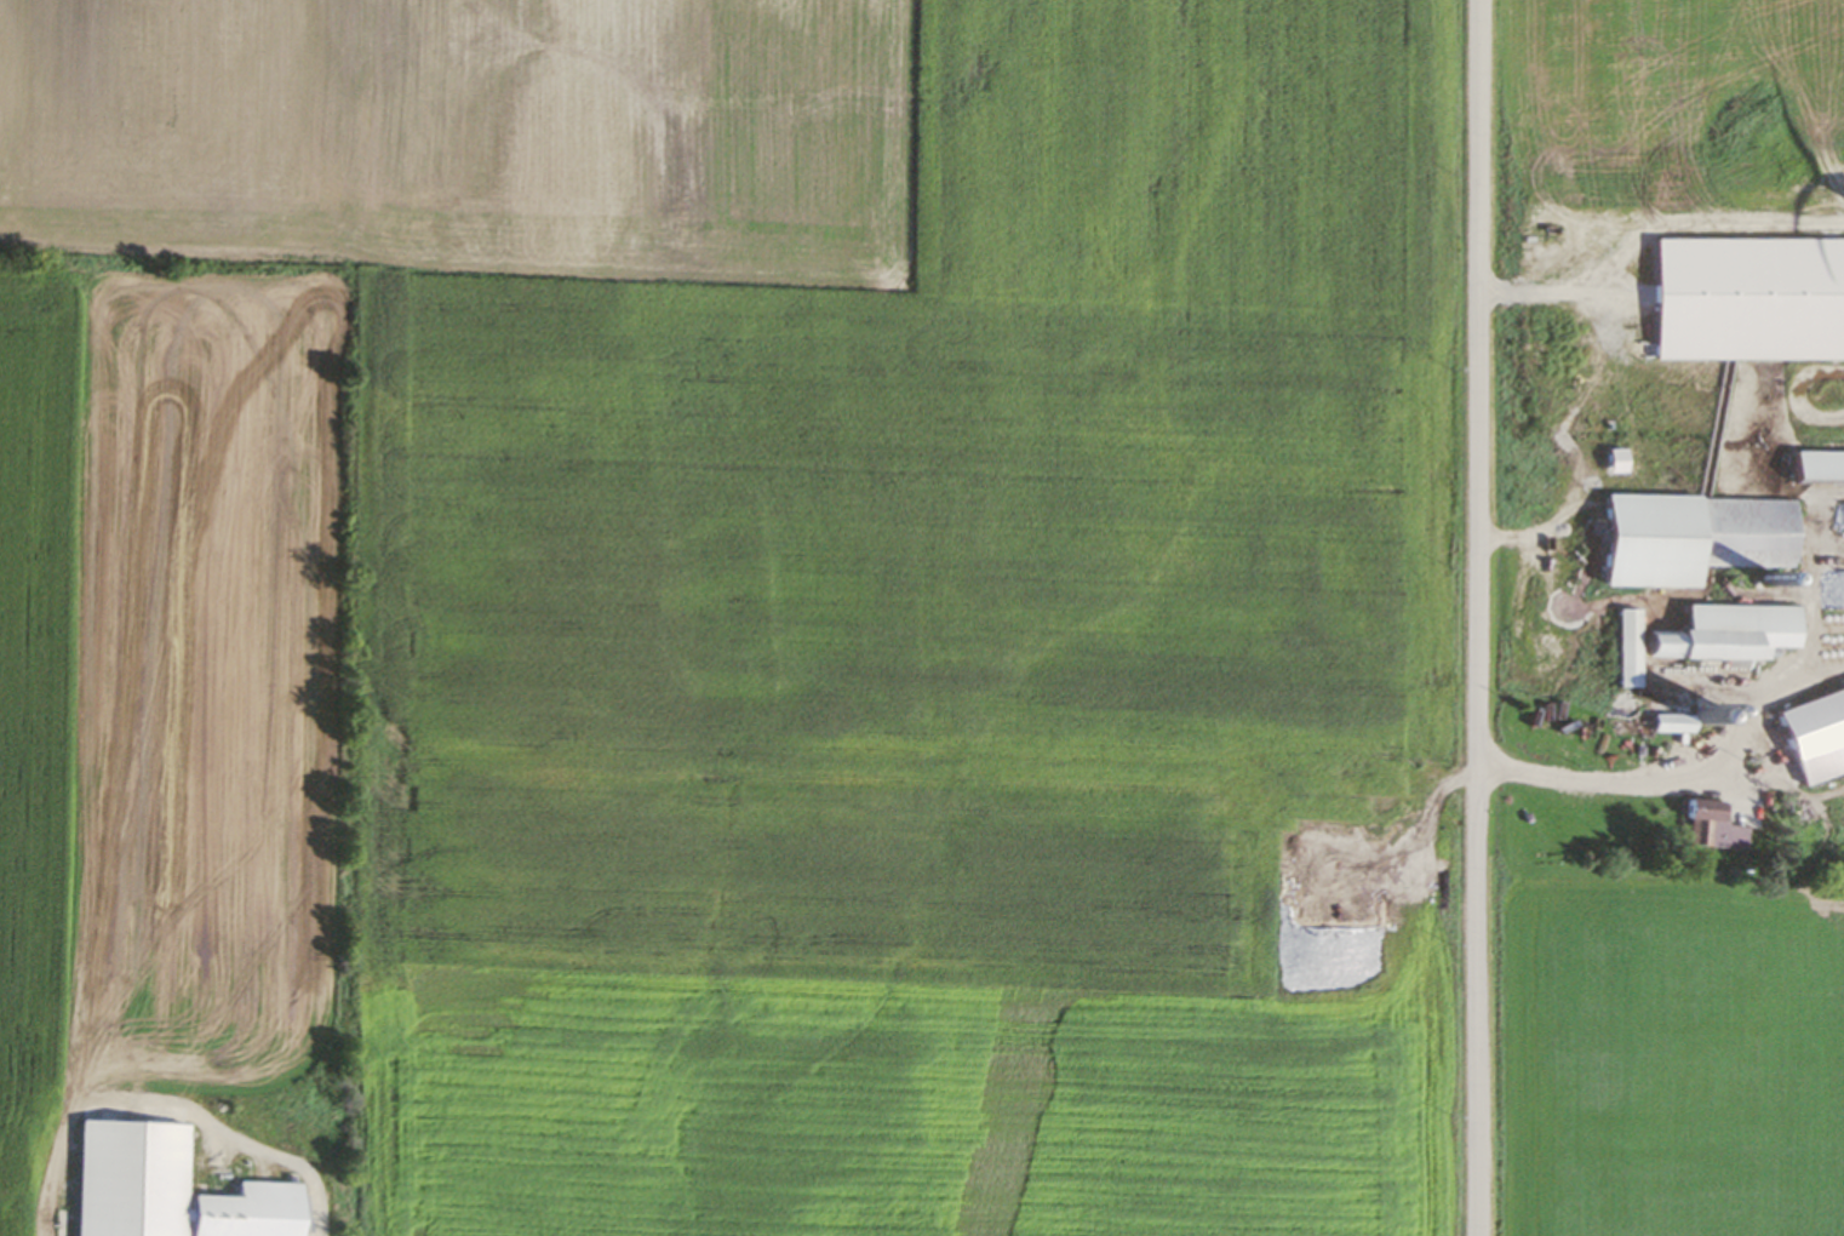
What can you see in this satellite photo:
building: (1815, 468)
building: (1685, 539)
road: (1479, 618)
building: (1720, 635)
building: (1625, 650)
building: (1670, 725)
building: (1812, 734)
road: (1627, 783)
building: (1706, 824)

